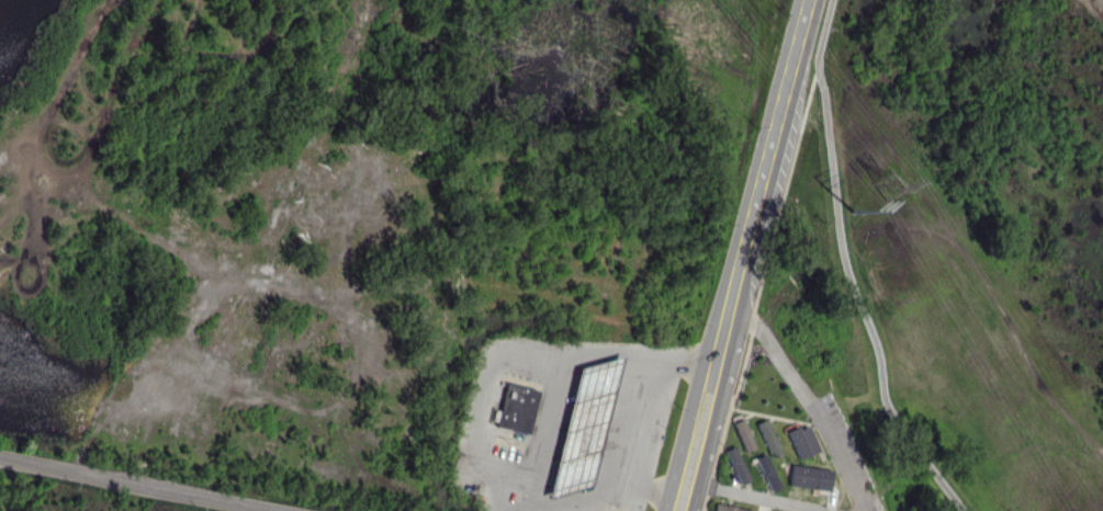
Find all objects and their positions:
road: (1099, 3)
road: (822, 33)
road: (769, 168)
power tower: (894, 184)
power tower: (853, 212)
road: (859, 300)
road: (565, 370)
road: (483, 393)
road: (809, 400)
building: (516, 409)
road: (686, 420)
road: (713, 424)
building: (767, 438)
building: (801, 441)
building: (735, 465)
road: (605, 470)
building: (766, 473)
building: (809, 477)
road: (137, 486)
road: (757, 497)
building: (728, 508)

